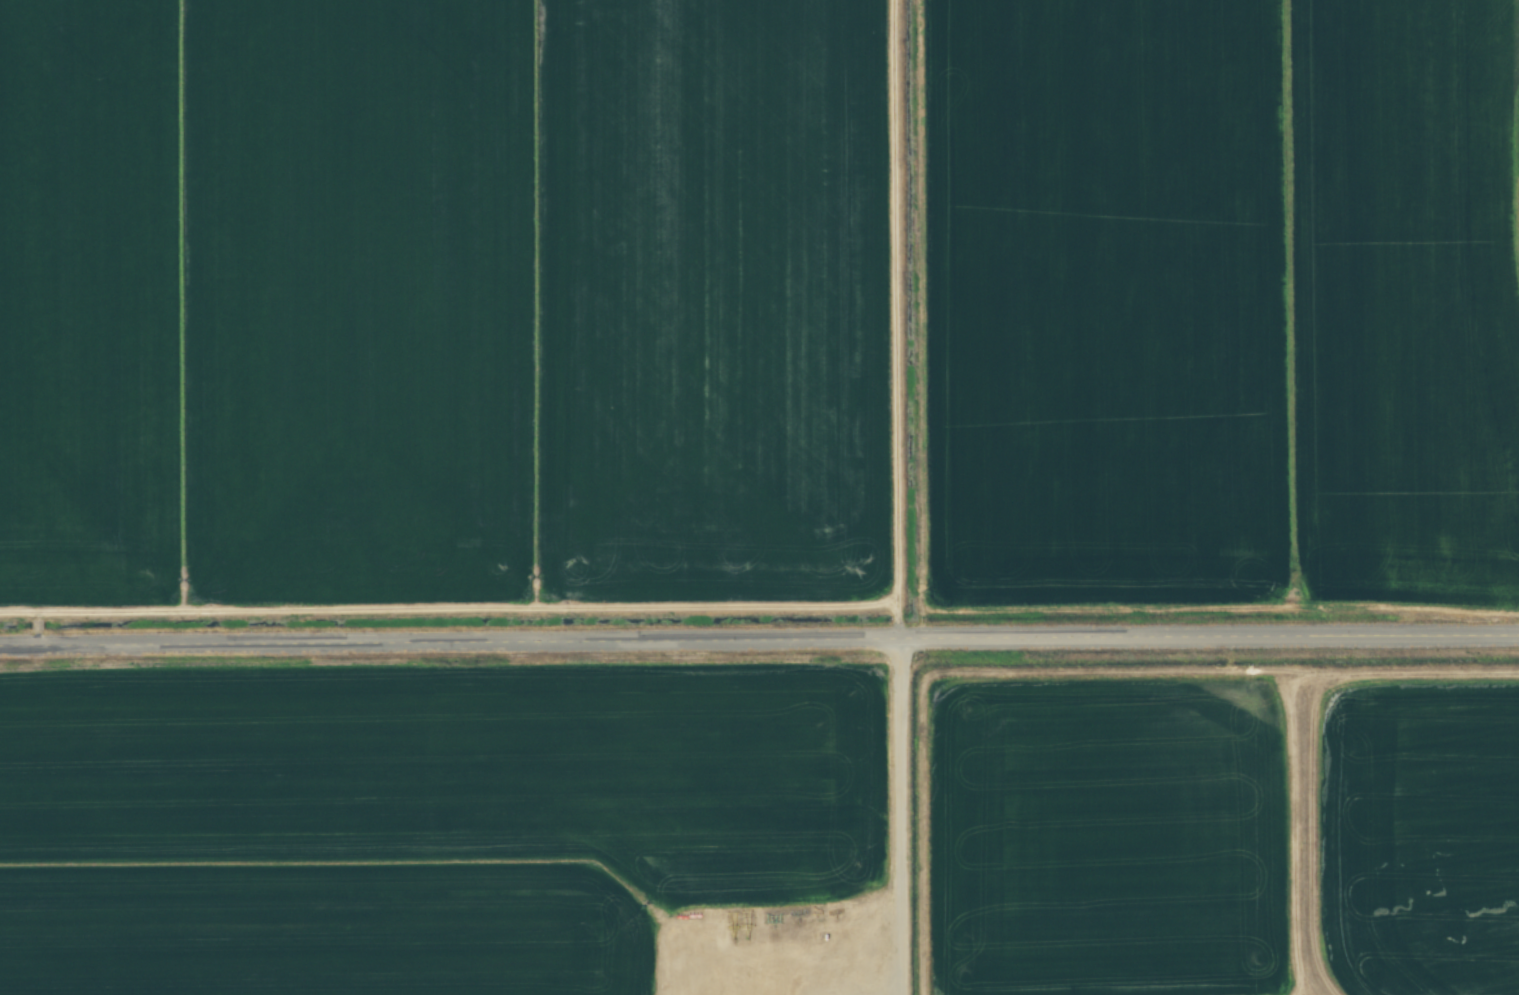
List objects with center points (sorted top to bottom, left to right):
road: (759, 642)
road: (899, 818)

